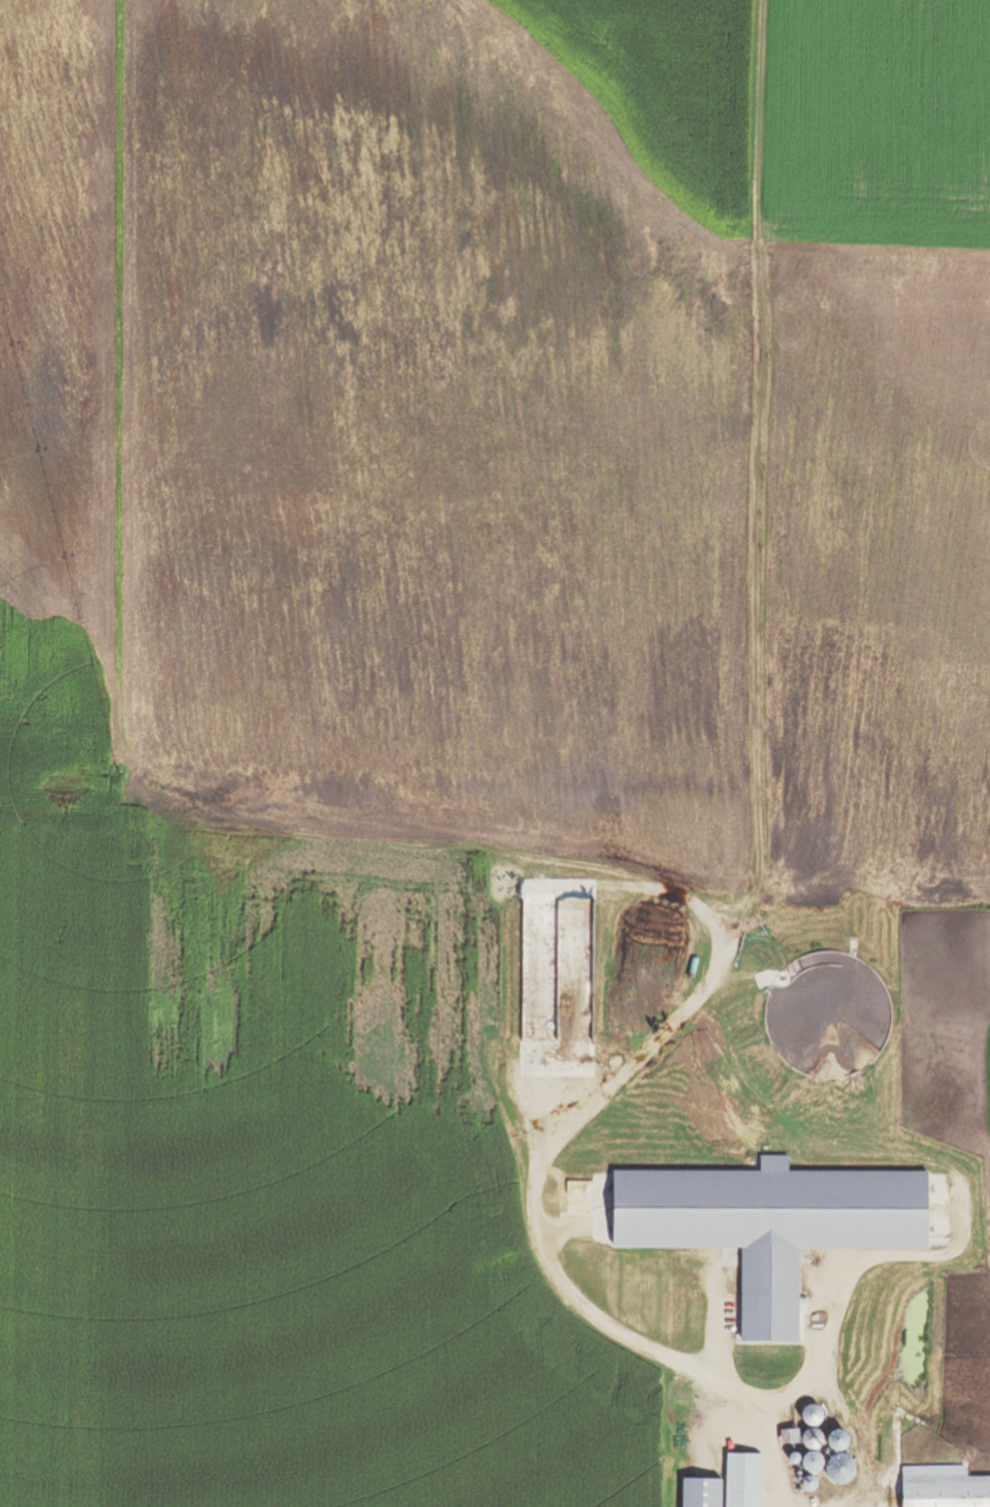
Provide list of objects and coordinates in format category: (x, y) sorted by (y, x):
building: (828, 1016)
building: (771, 1225)
building: (813, 1416)
building: (791, 1438)
building: (813, 1440)
building: (838, 1441)
building: (733, 1450)
building: (795, 1459)
building: (813, 1463)
building: (841, 1470)
building: (799, 1474)
building: (800, 1479)
building: (744, 1481)
building: (810, 1484)
building: (944, 1488)
building: (801, 1491)
building: (702, 1493)

